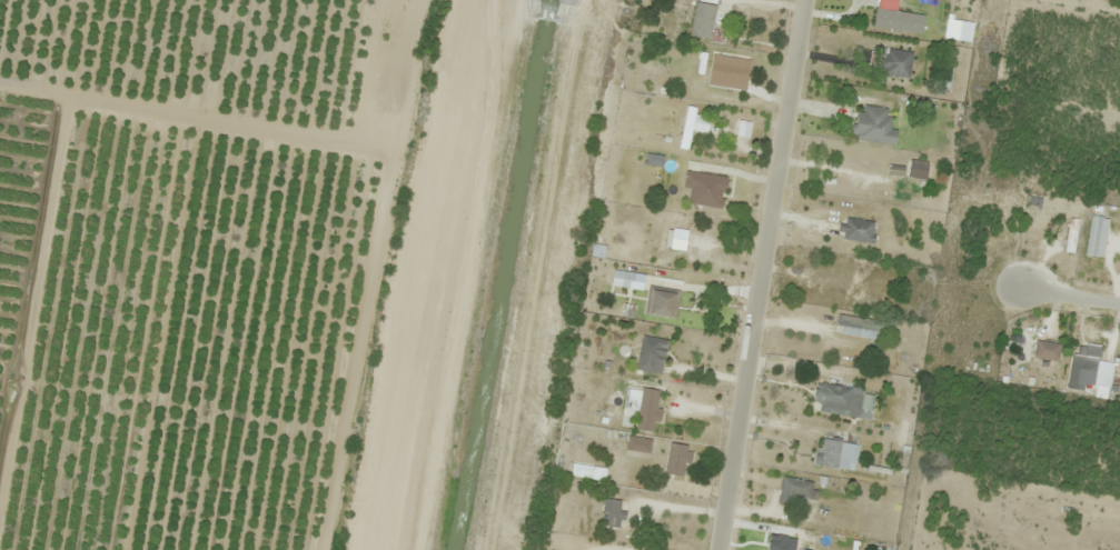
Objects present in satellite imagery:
building: (899, 21)
building: (713, 24)
building: (398, 28)
building: (894, 62)
building: (725, 67)
building: (400, 90)
building: (873, 127)
road: (270, 129)
building: (705, 188)
building: (856, 230)
building: (666, 238)
road: (759, 274)
road: (1068, 294)
building: (662, 303)
building: (859, 328)
building: (652, 350)
building: (1023, 353)
building: (1082, 364)
building: (842, 401)
building: (643, 408)
building: (837, 454)
building: (675, 460)
building: (794, 490)
building: (612, 513)
building: (823, 542)
building: (614, 549)

